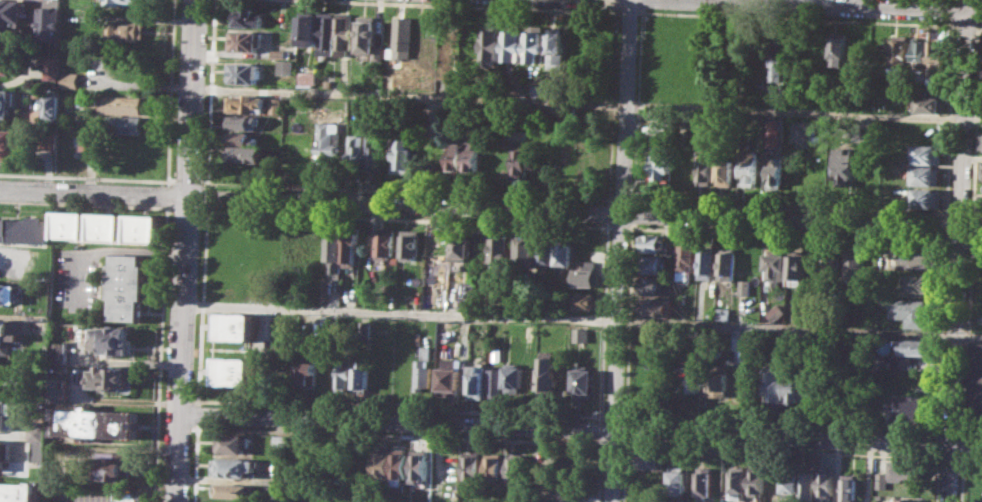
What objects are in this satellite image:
building: (127, 2)
road: (617, 3)
road: (642, 3)
road: (862, 4)
road: (471, 5)
road: (628, 11)
building: (12, 13)
road: (796, 17)
building: (249, 18)
building: (51, 22)
road: (966, 25)
road: (979, 26)
building: (128, 30)
building: (306, 30)
building: (325, 30)
building: (343, 33)
building: (368, 37)
building: (401, 37)
building: (245, 40)
building: (535, 43)
building: (557, 44)
building: (491, 45)
building: (513, 46)
building: (839, 50)
building: (279, 52)
building: (901, 53)
building: (775, 54)
building: (934, 58)
building: (7, 63)
building: (55, 67)
building: (284, 67)
building: (244, 72)
building: (305, 77)
building: (72, 79)
building: (327, 82)
building: (540, 91)
road: (210, 93)
building: (8, 102)
road: (587, 102)
building: (122, 103)
building: (248, 103)
building: (929, 104)
road: (613, 105)
road: (636, 105)
building: (52, 106)
building: (70, 112)
building: (242, 122)
building: (124, 124)
building: (770, 132)
building: (803, 133)
building: (241, 138)
building: (93, 139)
building: (50, 141)
building: (327, 143)
building: (8, 146)
building: (981, 147)
building: (354, 150)
building: (371, 151)
building: (247, 154)
building: (926, 154)
building: (401, 156)
building: (453, 156)
building: (519, 156)
building: (469, 157)
building: (661, 163)
building: (843, 164)
building: (774, 170)
building: (704, 171)
building: (748, 171)
building: (981, 172)
building: (725, 173)
building: (924, 175)
road: (83, 177)
road: (170, 181)
road: (187, 181)
road: (407, 190)
road: (93, 192)
building: (901, 194)
building: (926, 198)
road: (207, 199)
road: (620, 199)
building: (981, 203)
road: (83, 204)
road: (790, 206)
road: (584, 211)
road: (608, 212)
road: (632, 213)
road: (959, 214)
road: (312, 215)
road: (975, 215)
building: (72, 225)
building: (109, 226)
road: (620, 227)
building: (145, 228)
building: (26, 229)
road: (789, 233)
building: (385, 241)
road: (959, 241)
road: (975, 241)
building: (460, 243)
building: (651, 243)
building: (350, 246)
building: (408, 247)
road: (111, 249)
road: (185, 250)
road: (958, 250)
road: (165, 251)
building: (547, 251)
building: (564, 251)
road: (620, 251)
building: (500, 252)
building: (525, 252)
building: (334, 255)
building: (914, 256)
building: (684, 259)
building: (832, 261)
building: (705, 262)
building: (726, 262)
building: (651, 264)
building: (775, 265)
building: (855, 266)
building: (798, 267)
building: (587, 275)
parking lot: (81, 277)
building: (916, 283)
building: (651, 285)
building: (127, 286)
building: (743, 287)
building: (9, 293)
building: (467, 294)
building: (585, 301)
building: (654, 307)
building: (911, 311)
building: (774, 312)
building: (722, 313)
road: (582, 318)
road: (604, 320)
road: (629, 321)
building: (235, 326)
building: (10, 334)
building: (581, 334)
building: (114, 338)
building: (917, 347)
building: (59, 351)
building: (307, 369)
building: (425, 369)
building: (234, 371)
building: (344, 374)
building: (546, 374)
building: (365, 375)
building: (114, 376)
building: (514, 379)
building: (450, 380)
building: (695, 380)
building: (716, 380)
building: (477, 381)
building: (495, 381)
building: (584, 381)
building: (977, 381)
building: (772, 382)
building: (810, 387)
building: (792, 388)
building: (59, 389)
road: (402, 407)
building: (911, 409)
road: (200, 414)
building: (7, 415)
road: (614, 416)
building: (94, 422)
road: (782, 423)
road: (580, 427)
road: (602, 430)
road: (625, 430)
road: (951, 431)
road: (971, 431)
building: (37, 432)
road: (402, 434)
building: (281, 441)
building: (233, 443)
road: (613, 443)
road: (438, 444)
road: (782, 449)
building: (38, 451)
building: (4, 453)
road: (952, 458)
building: (647, 459)
road: (971, 460)
road: (198, 462)
building: (365, 462)
building: (385, 463)
building: (403, 463)
building: (422, 464)
building: (473, 464)
building: (234, 466)
building: (495, 466)
building: (109, 468)
building: (518, 468)
road: (600, 470)
road: (624, 470)
building: (905, 470)
building: (676, 478)
building: (737, 478)
building: (787, 480)
building: (880, 480)
building: (756, 481)
building: (703, 482)
building: (805, 482)
building: (824, 482)
building: (848, 487)
building: (234, 490)
building: (17, 491)
building: (131, 497)
building: (908, 500)
building: (228, 501)
building: (735, 501)

